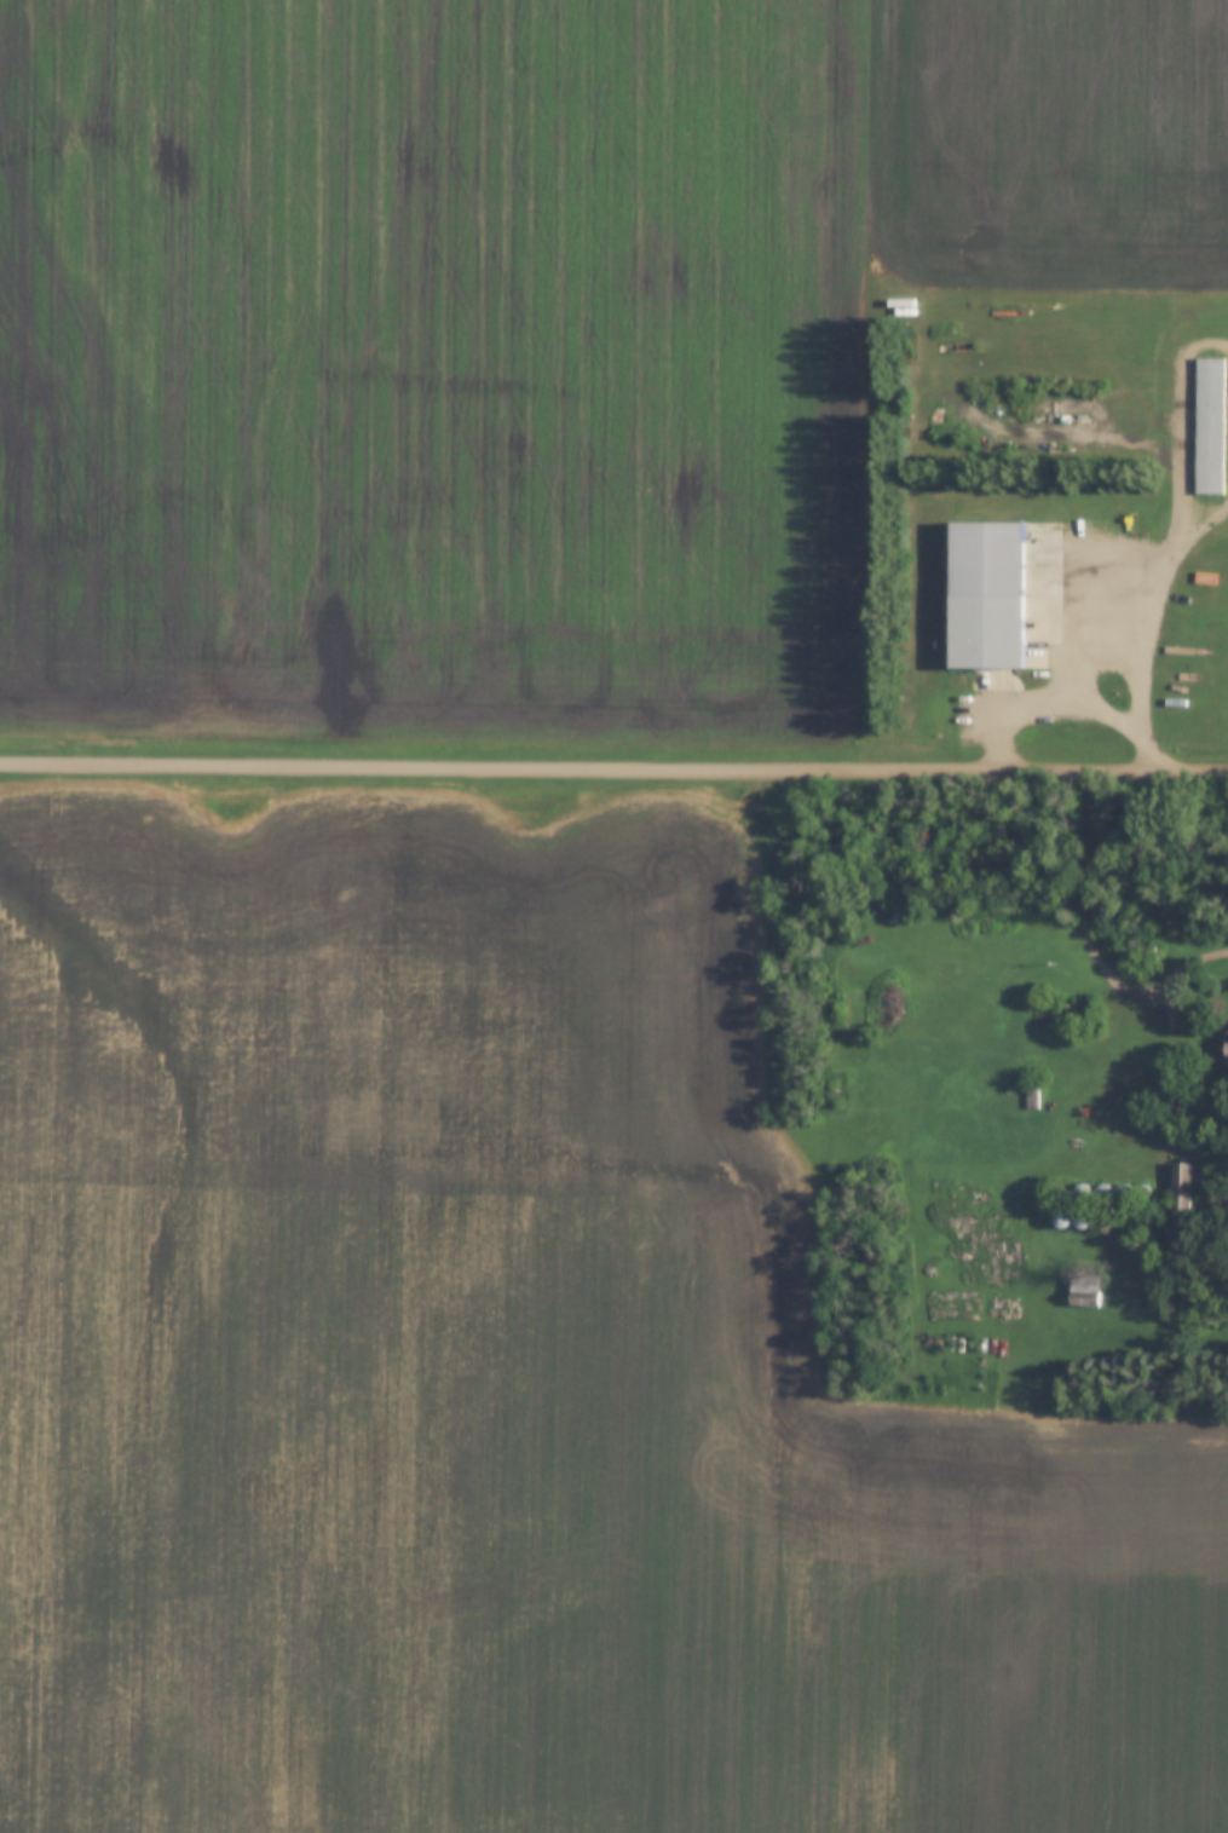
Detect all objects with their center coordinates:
building: (901, 302)
building: (1209, 426)
road: (1161, 578)
building: (986, 594)
road: (1084, 661)
road: (1049, 707)
road: (613, 766)
road: (1092, 938)
building: (1140, 947)
building: (1227, 1048)
building: (1032, 1091)
building: (1180, 1187)
building: (1082, 1192)
silo: (1082, 1192)
building: (1103, 1192)
silo: (1103, 1192)
building: (1123, 1192)
silo: (1123, 1192)
building: (1141, 1192)
silo: (1141, 1192)
building: (1061, 1220)
silo: (1061, 1220)
building: (1082, 1220)
silo: (1082, 1220)
building: (1084, 1292)

